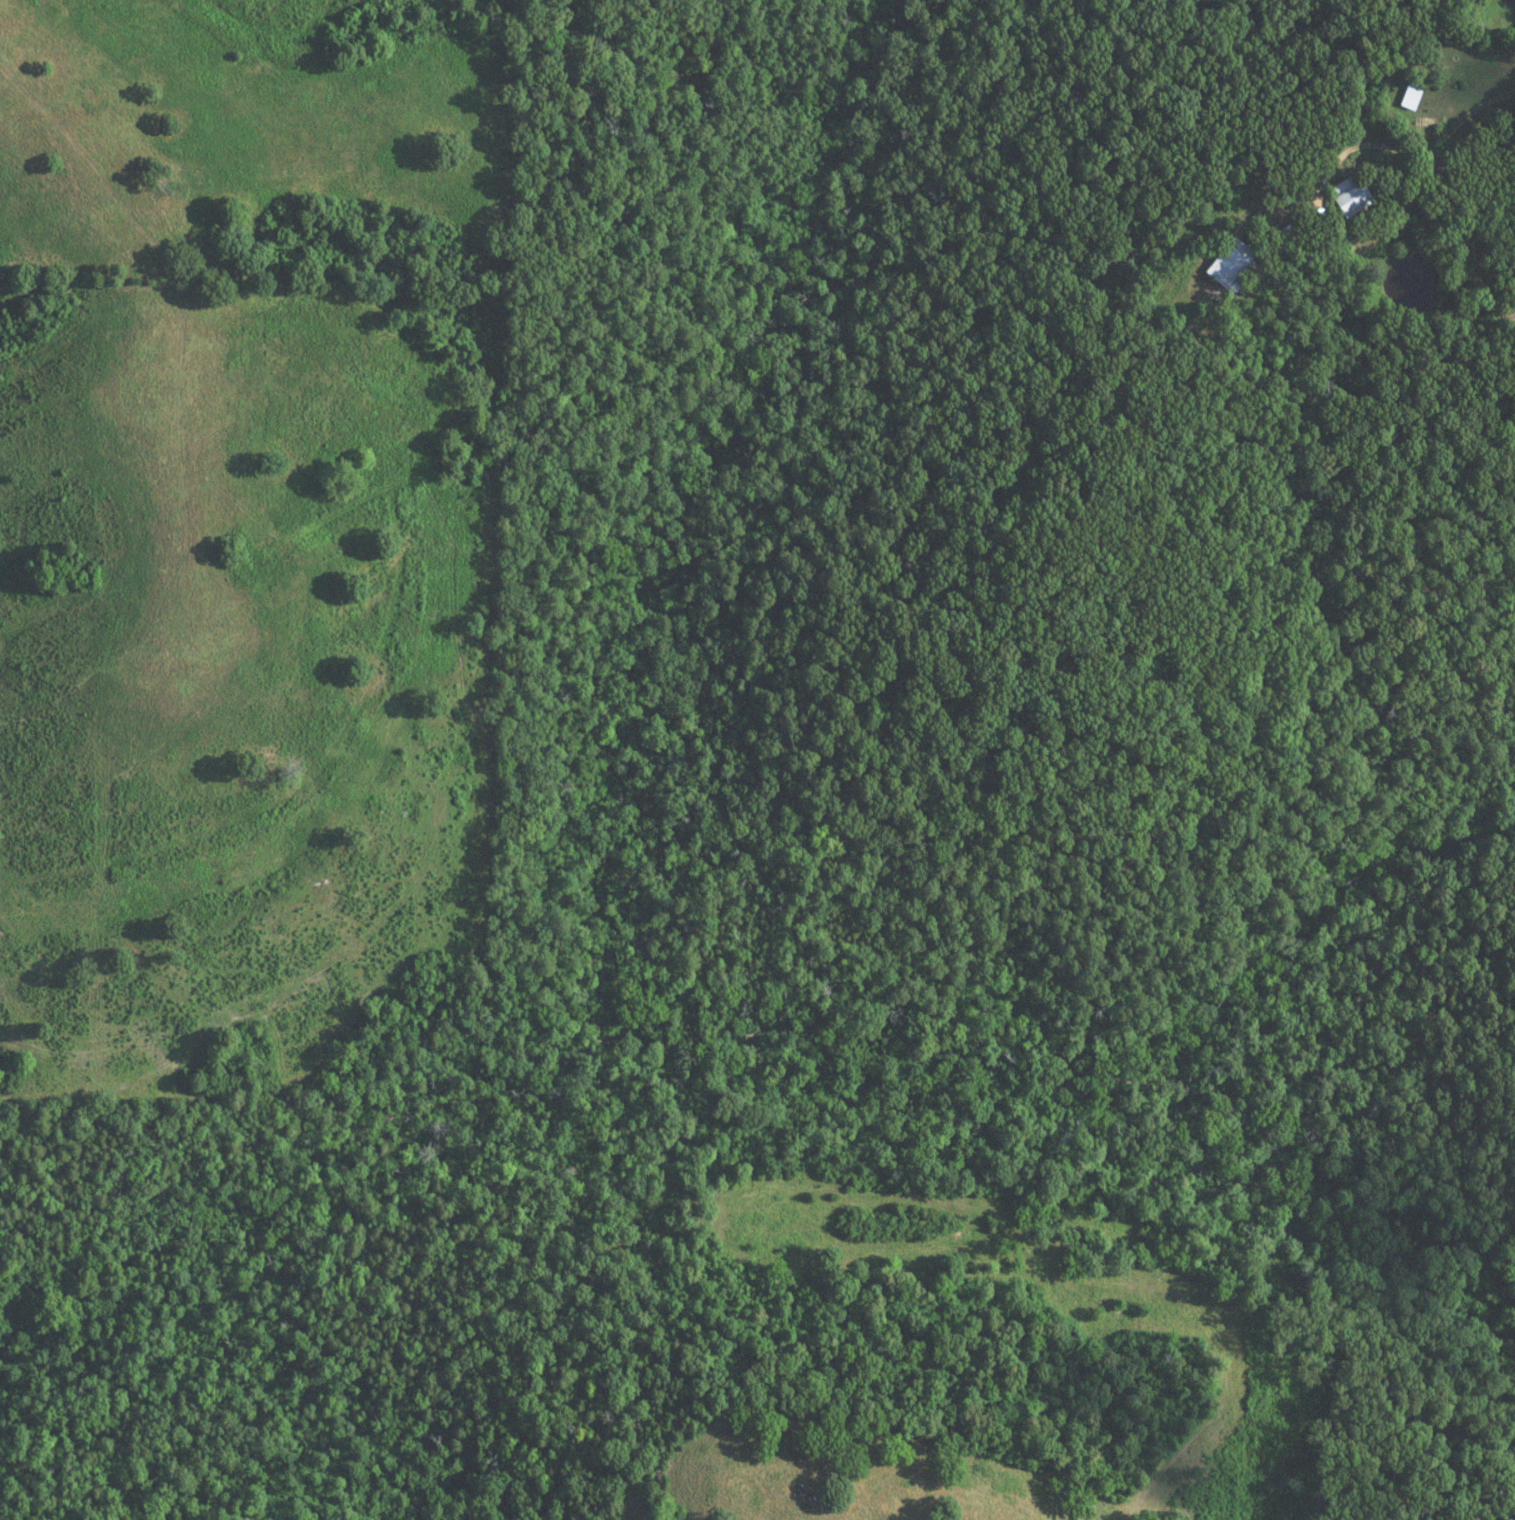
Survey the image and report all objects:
building: (1405, 97)
building: (1343, 194)
road: (1455, 231)
building: (1223, 260)

